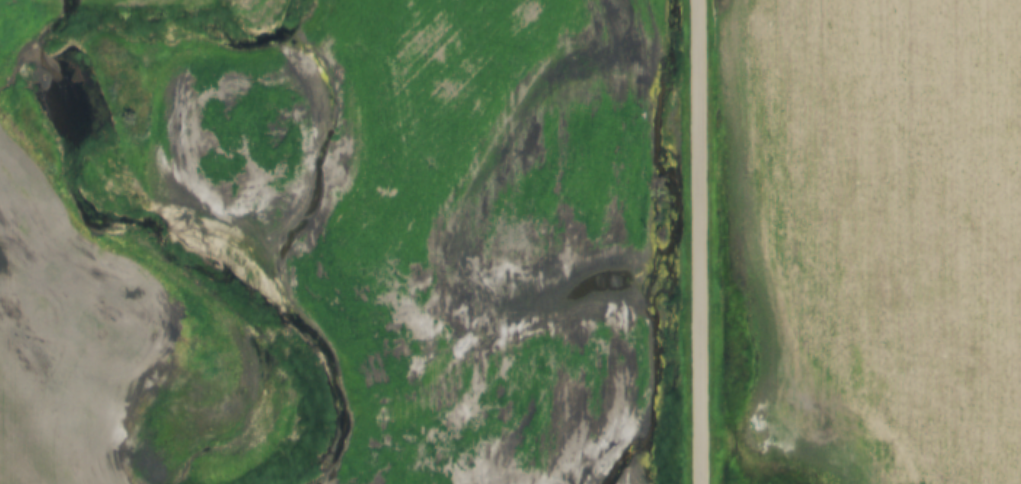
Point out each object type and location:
road: (698, 242)

